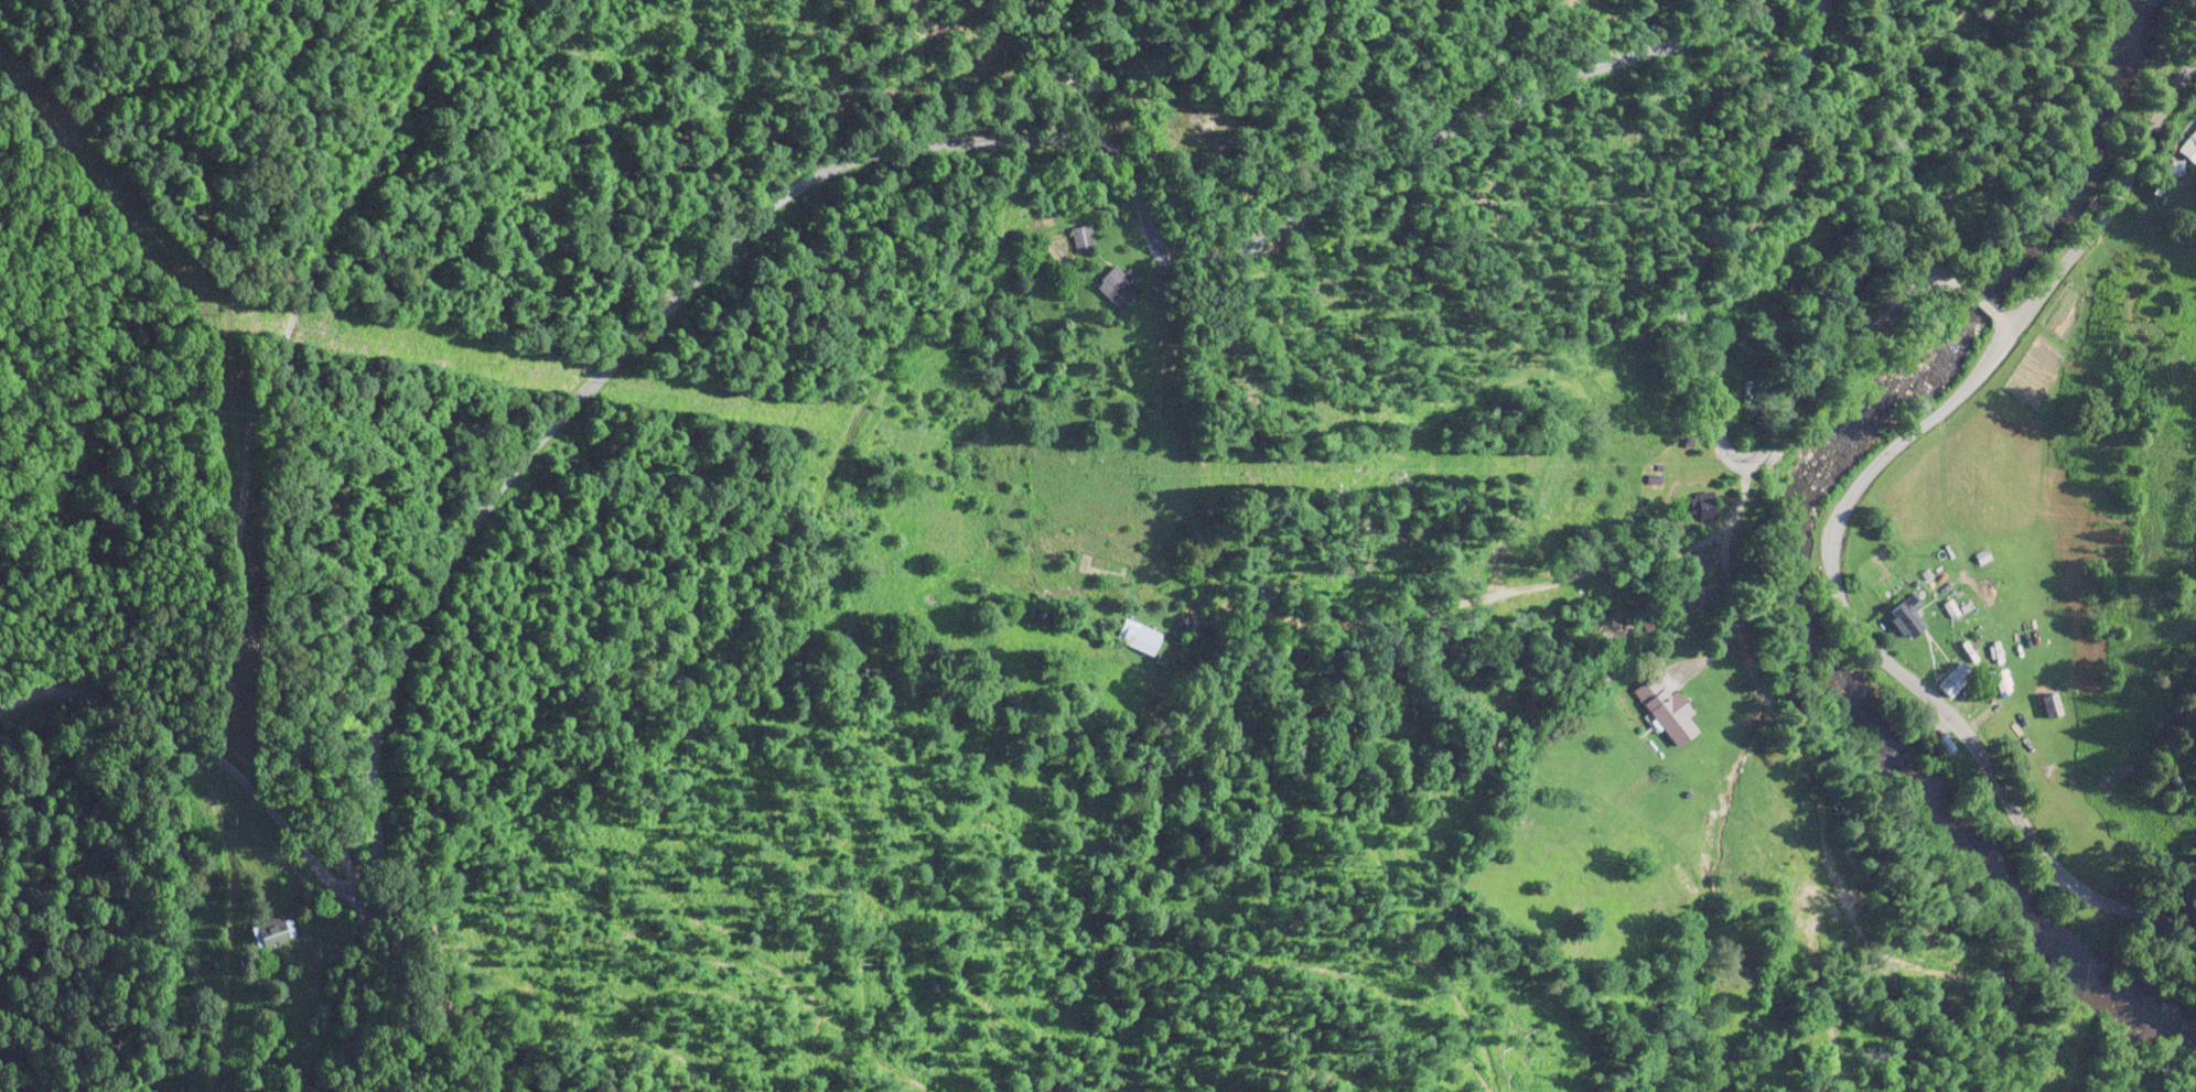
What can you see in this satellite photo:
building: (2188, 144)
road: (703, 217)
building: (1081, 237)
building: (1119, 286)
road: (1698, 424)
building: (1704, 505)
road: (1923, 508)
road: (194, 525)
building: (1907, 614)
building: (1139, 635)
building: (1955, 677)
building: (2050, 703)
building: (1667, 707)
road: (214, 929)
building: (271, 929)

